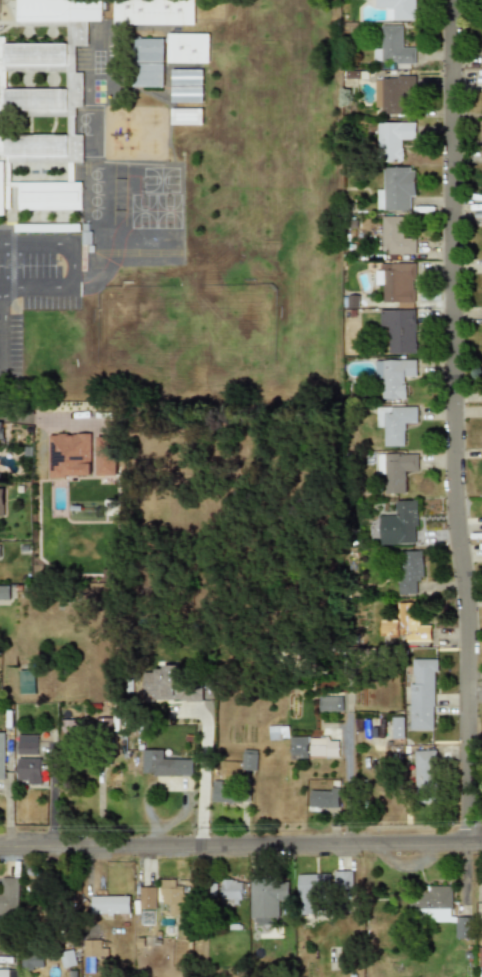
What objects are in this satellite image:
building: (397, 9)
building: (153, 12)
building: (394, 47)
building: (188, 48)
building: (481, 50)
building: (148, 62)
building: (42, 84)
building: (186, 86)
building: (391, 95)
building: (186, 116)
building: (393, 140)
building: (397, 188)
building: (50, 195)
building: (395, 238)
road: (69, 263)
road: (2, 268)
building: (398, 284)
road: (1, 295)
building: (399, 330)
road: (1, 338)
building: (395, 376)
road: (33, 420)
building: (396, 422)
road: (451, 424)
building: (0, 431)
building: (26, 451)
building: (80, 456)
building: (396, 470)
building: (2, 502)
building: (399, 524)
building: (410, 570)
building: (4, 591)
building: (406, 625)
building: (26, 683)
building: (168, 684)
building: (423, 694)
building: (330, 703)
building: (398, 727)
building: (69, 729)
building: (278, 732)
building: (299, 747)
building: (324, 748)
building: (2, 755)
road: (347, 756)
building: (29, 759)
building: (249, 759)
building: (164, 764)
road: (202, 770)
building: (425, 773)
building: (229, 794)
road: (51, 795)
building: (323, 797)
road: (241, 846)
building: (342, 878)
building: (206, 892)
building: (232, 892)
building: (308, 892)
building: (9, 896)
building: (172, 897)
building: (146, 898)
building: (265, 902)
building: (110, 906)
building: (437, 908)
building: (93, 951)
building: (480, 956)
building: (67, 958)
building: (32, 960)
building: (4, 973)

